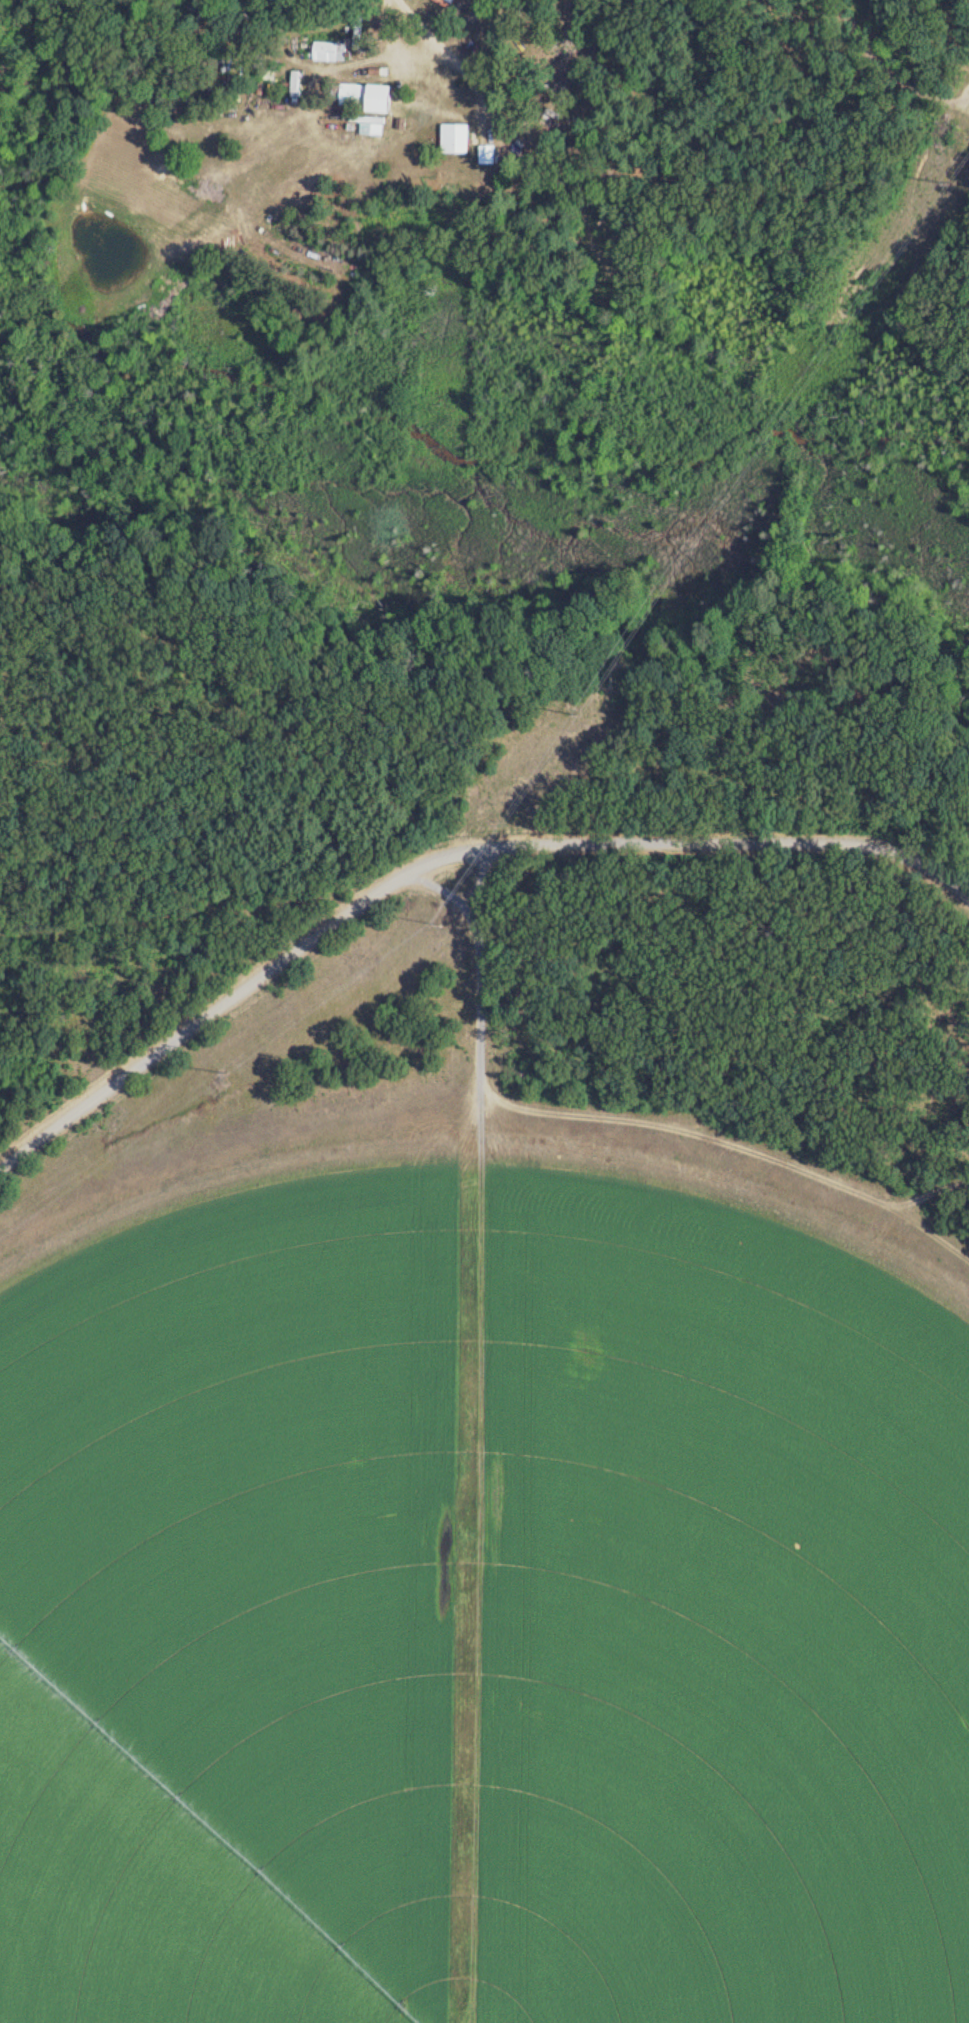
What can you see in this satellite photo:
road: (450, 48)
building: (332, 51)
building: (369, 97)
building: (458, 138)
building: (489, 154)
road: (444, 859)
wastewater plant: (506, 1447)

